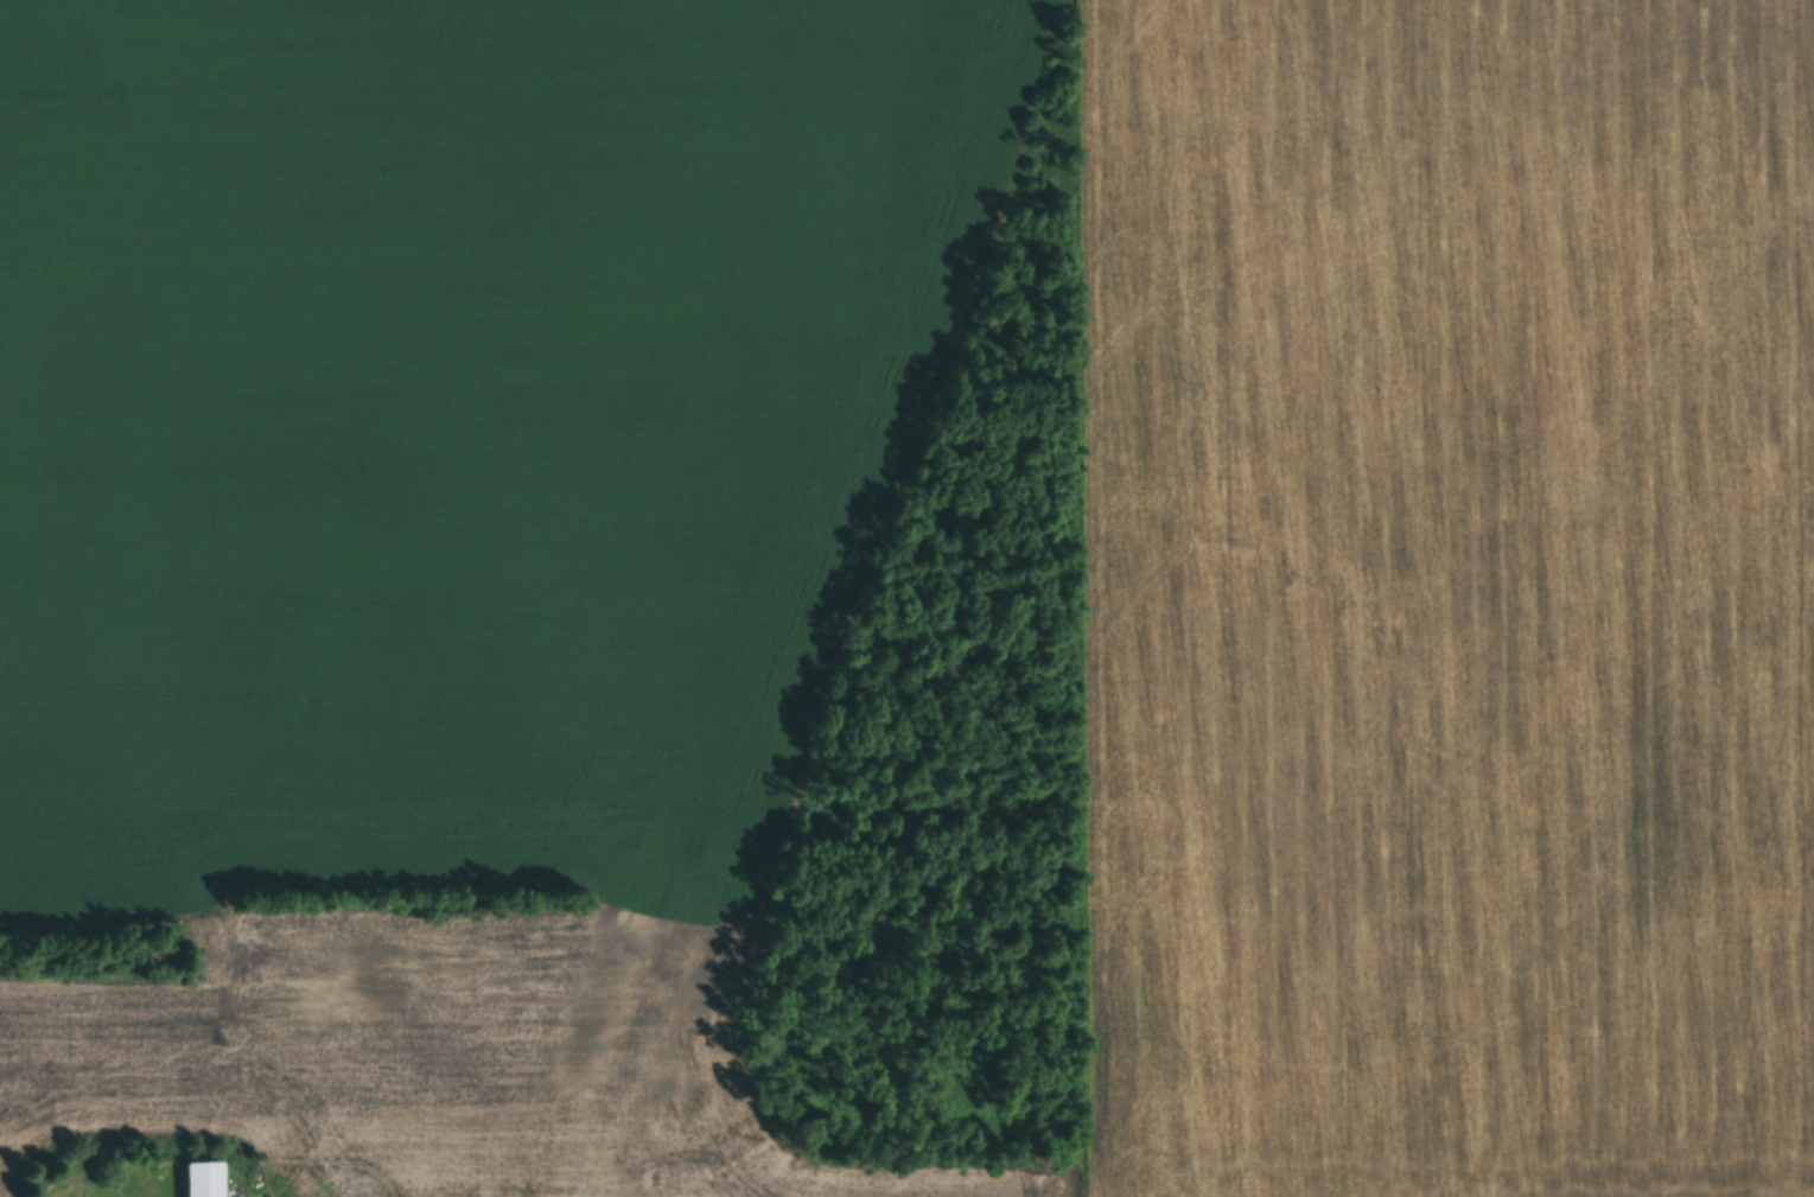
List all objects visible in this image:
building: (203, 1179)

